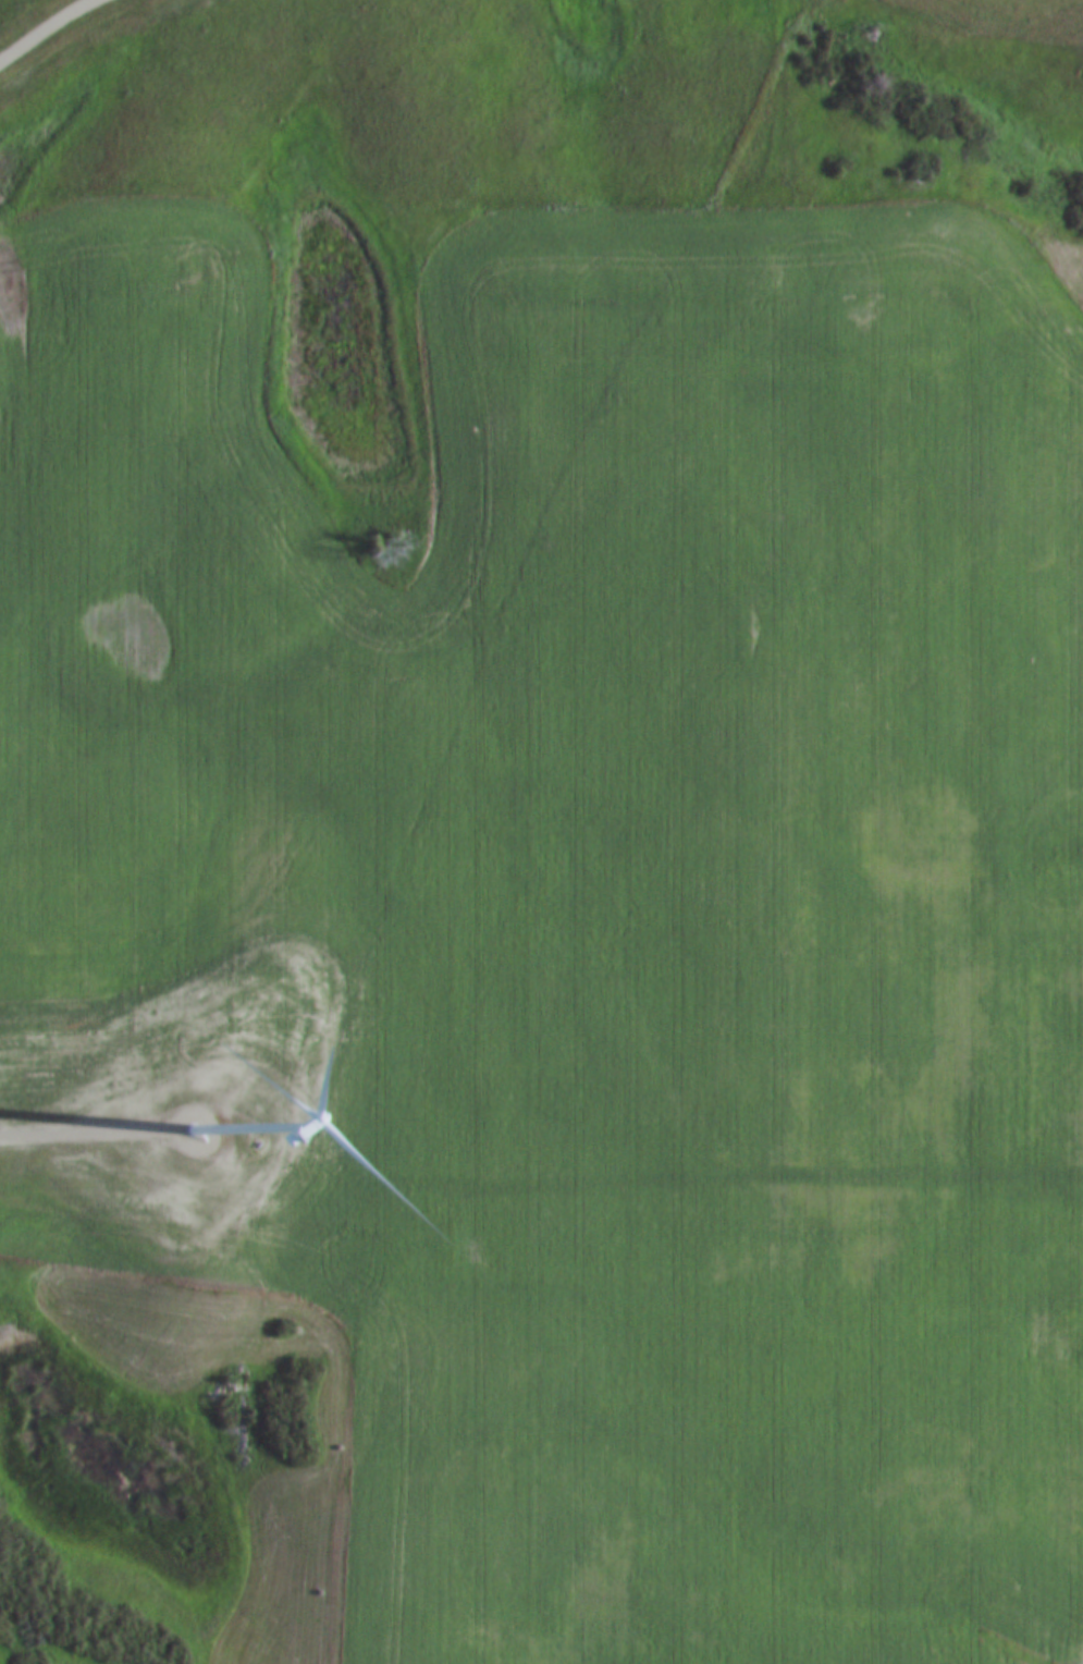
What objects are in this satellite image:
road: (35, 22)
wind turbine: (181, 1079)
road: (58, 1139)

